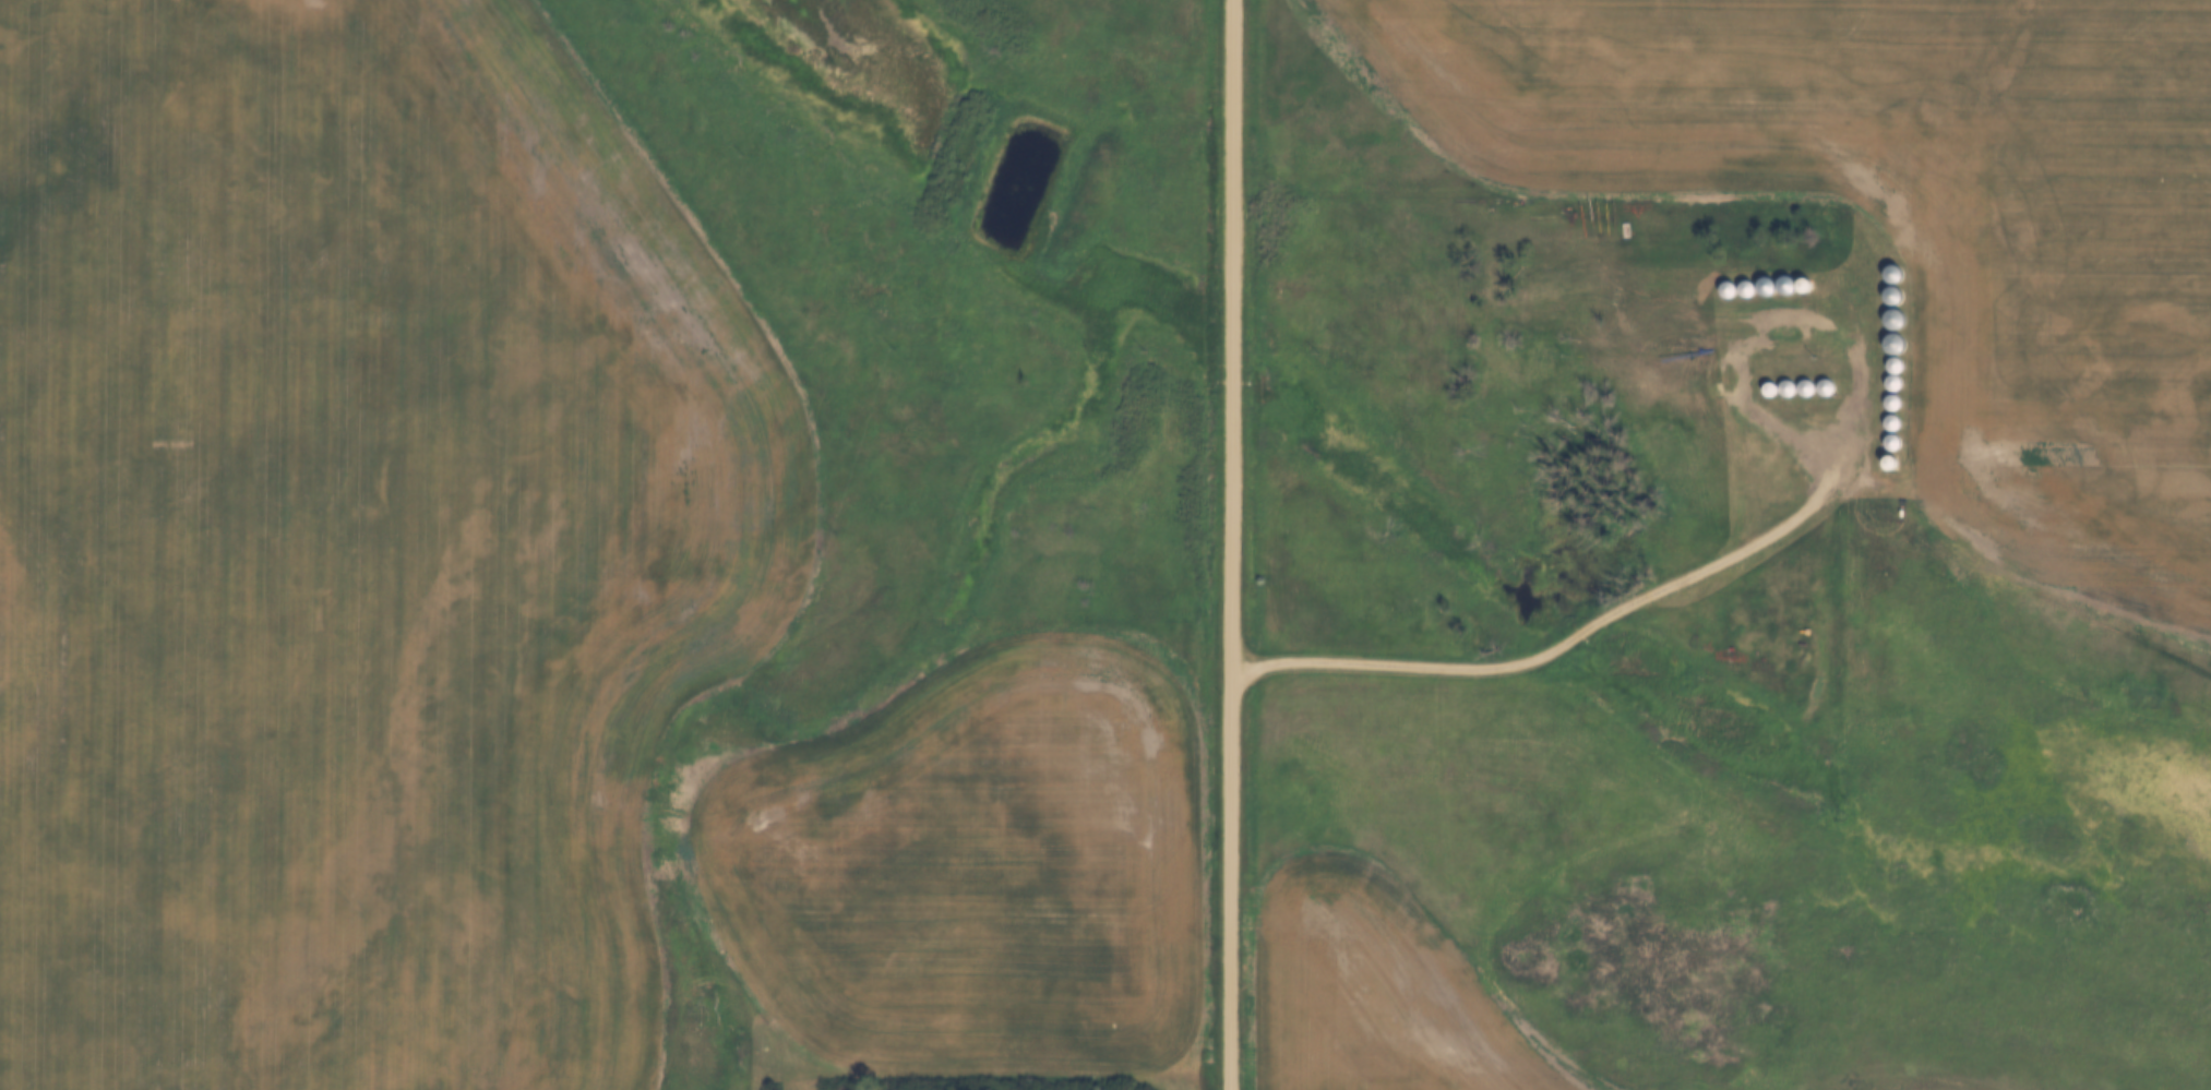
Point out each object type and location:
road: (1233, 544)
road: (1658, 595)

